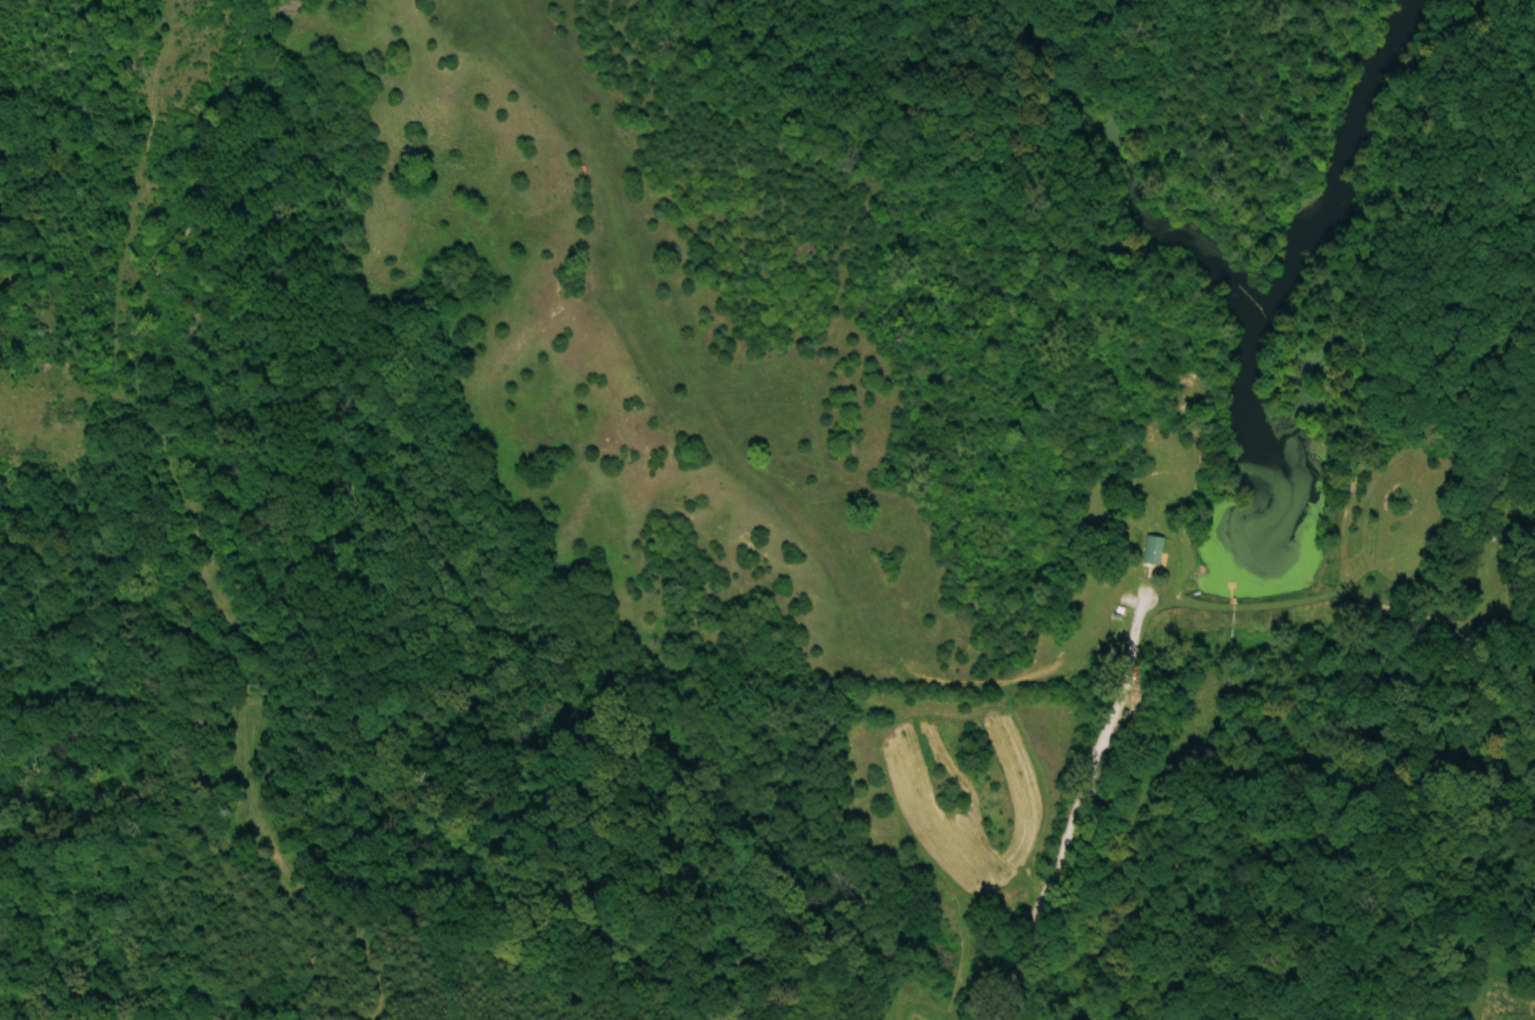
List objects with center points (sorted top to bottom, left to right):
building: (1155, 551)
road: (1075, 802)

